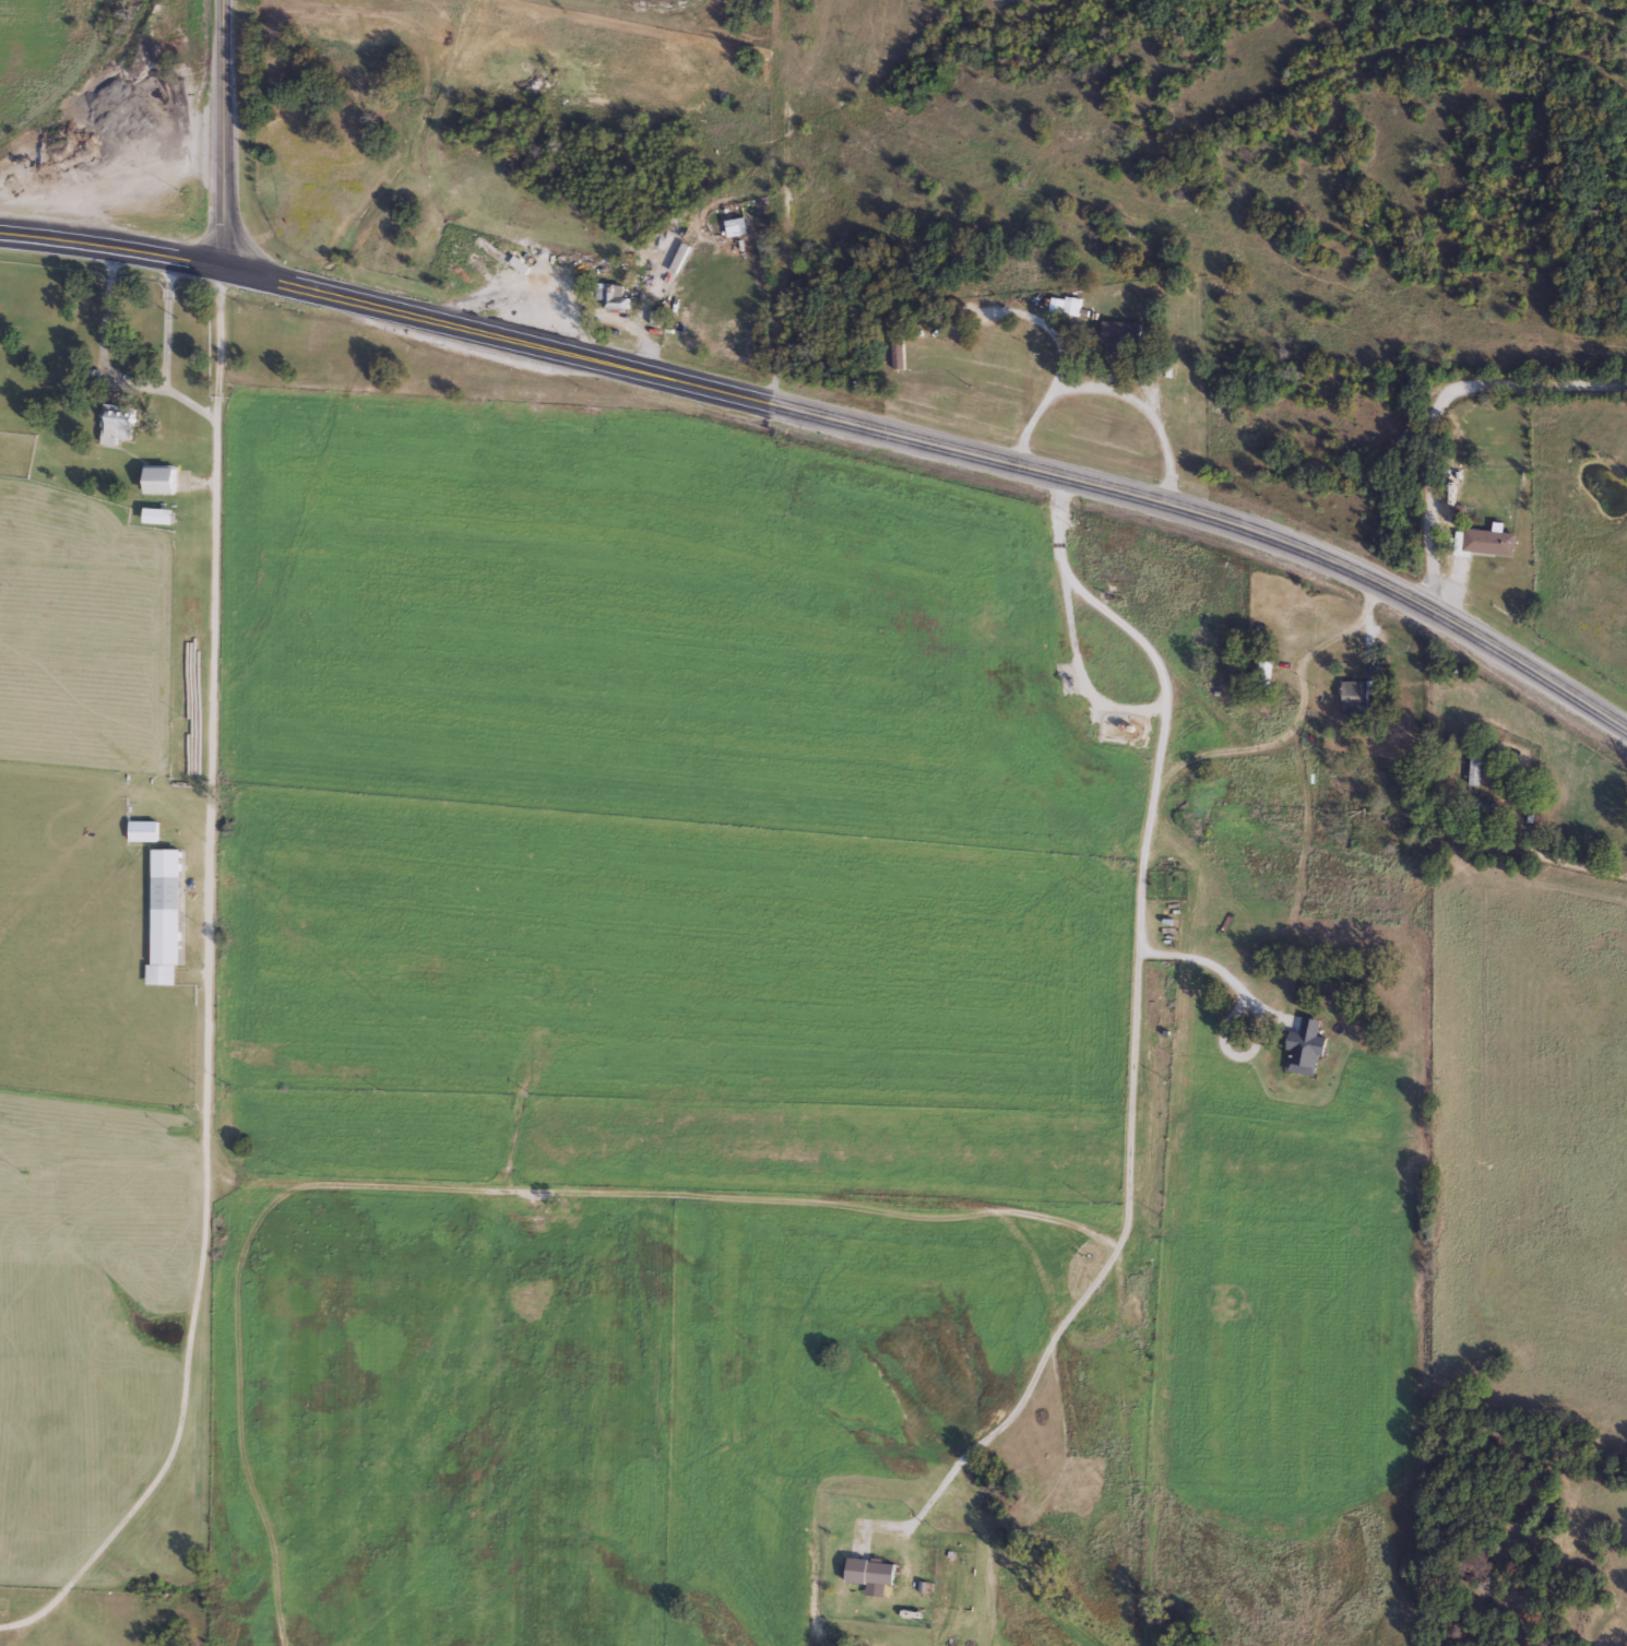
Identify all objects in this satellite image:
road: (225, 133)
building: (595, 186)
road: (110, 246)
building: (608, 292)
building: (1069, 304)
road: (1033, 312)
road: (170, 323)
building: (1119, 331)
building: (894, 352)
road: (106, 372)
road: (1118, 392)
building: (115, 422)
road: (943, 446)
road: (1469, 458)
building: (1451, 473)
building: (157, 477)
building: (155, 514)
building: (1483, 540)
building: (1261, 671)
road: (1092, 677)
building: (1355, 695)
building: (1473, 766)
building: (163, 915)
road: (215, 987)
road: (1143, 1006)

